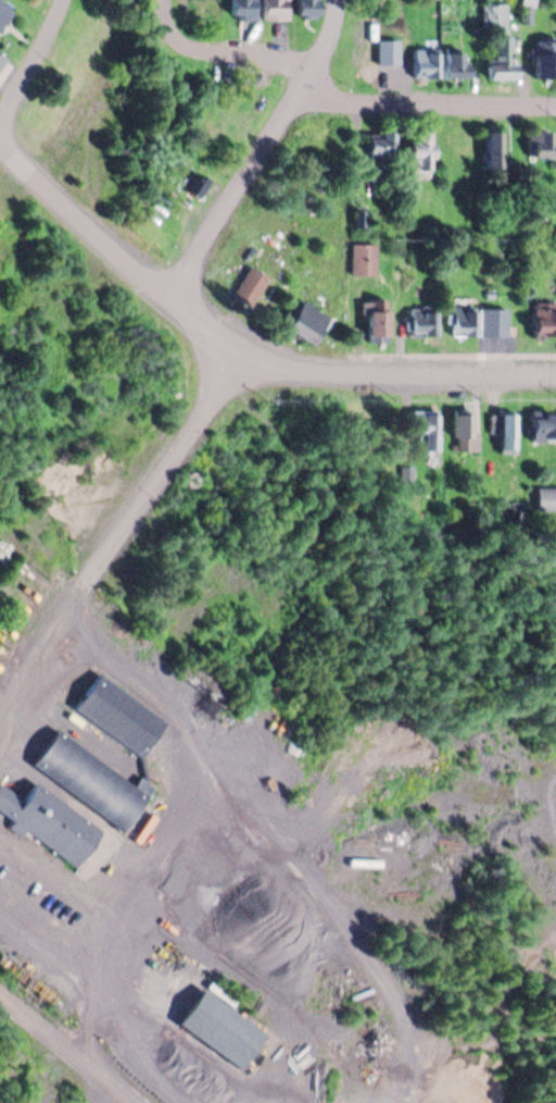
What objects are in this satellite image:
building: (208, 5)
building: (306, 7)
building: (243, 9)
building: (275, 9)
building: (4, 10)
building: (493, 15)
road: (233, 46)
building: (502, 55)
building: (545, 60)
road: (30, 61)
building: (426, 63)
building: (455, 63)
building: (3, 67)
road: (429, 97)
building: (380, 141)
building: (541, 142)
road: (269, 148)
building: (492, 148)
building: (420, 152)
building: (362, 258)
building: (250, 284)
building: (462, 318)
building: (422, 320)
building: (492, 321)
building: (544, 321)
building: (306, 322)
building: (377, 324)
road: (243, 333)
building: (424, 426)
building: (543, 426)
building: (463, 429)
building: (507, 431)
road: (166, 475)
building: (545, 498)
road: (36, 668)
building: (118, 714)
road: (186, 748)
building: (91, 780)
building: (49, 822)
road: (53, 862)
road: (104, 974)
building: (222, 1026)
road: (74, 1043)
road: (98, 1082)

